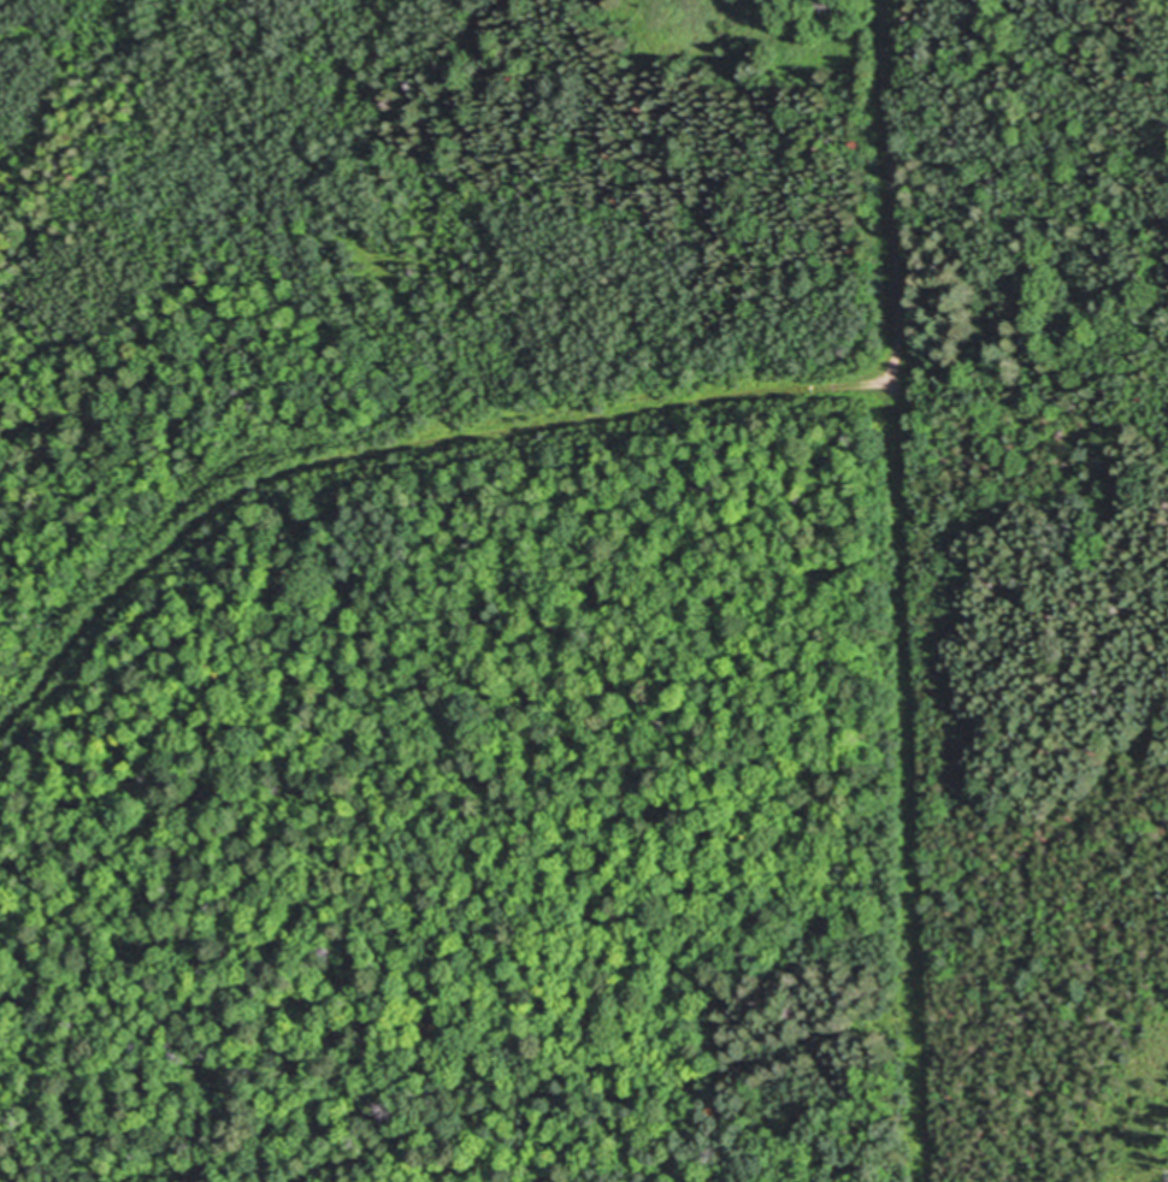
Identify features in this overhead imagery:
road: (901, 591)

